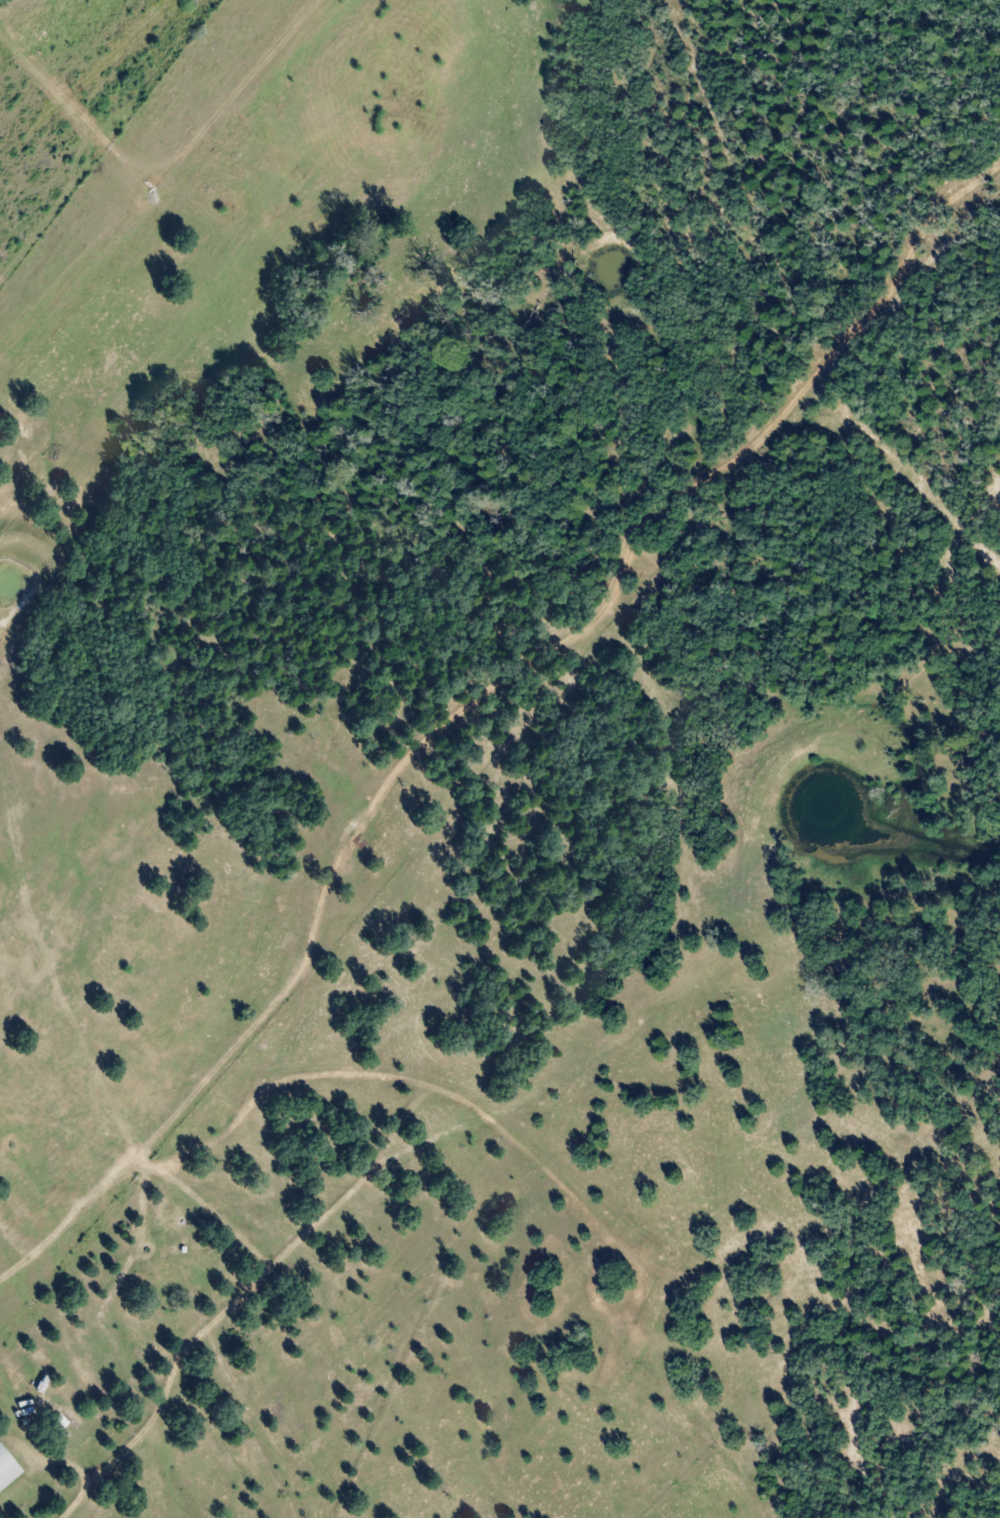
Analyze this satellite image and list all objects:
building: (66, 1419)
building: (6, 1468)

